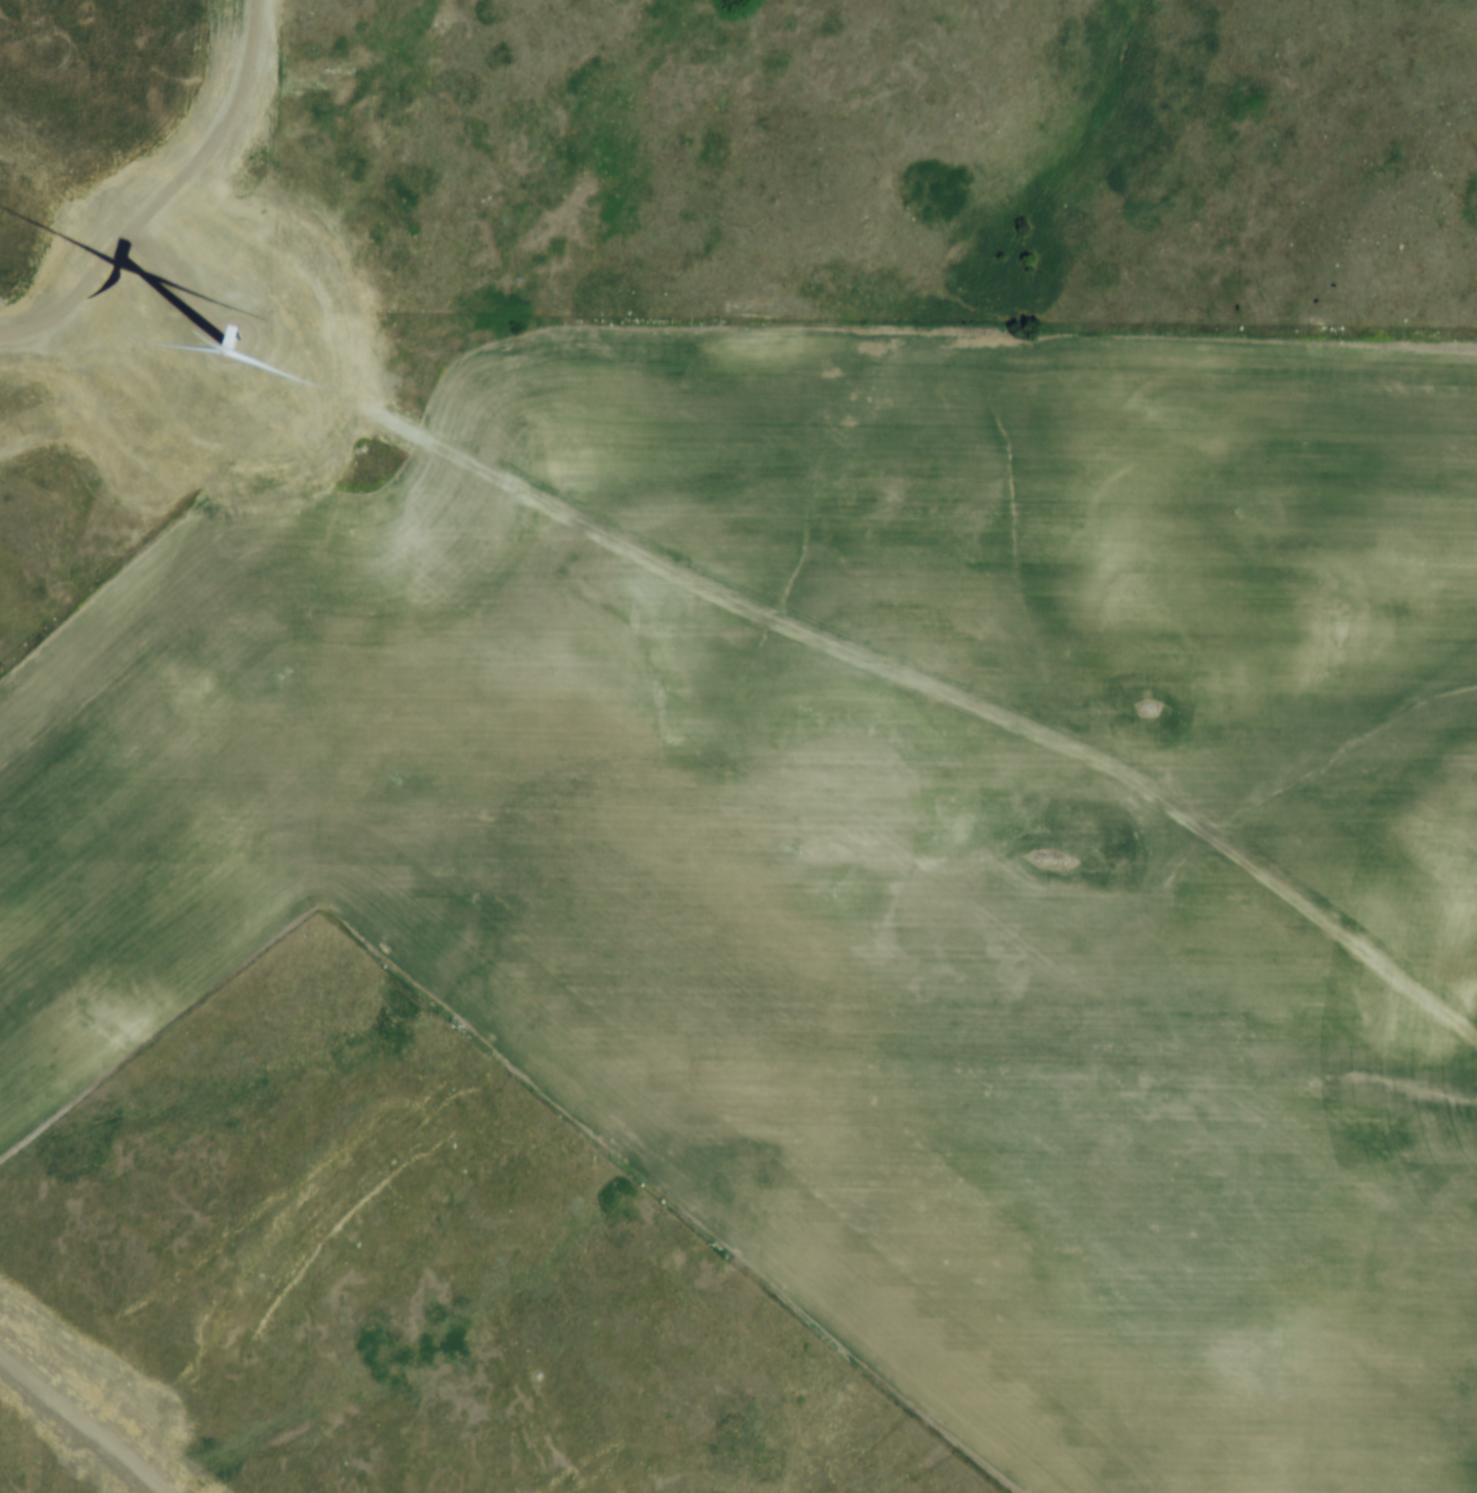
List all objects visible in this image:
road: (178, 189)
wind turbine: (217, 337)
road: (772, 665)
road: (93, 1409)

